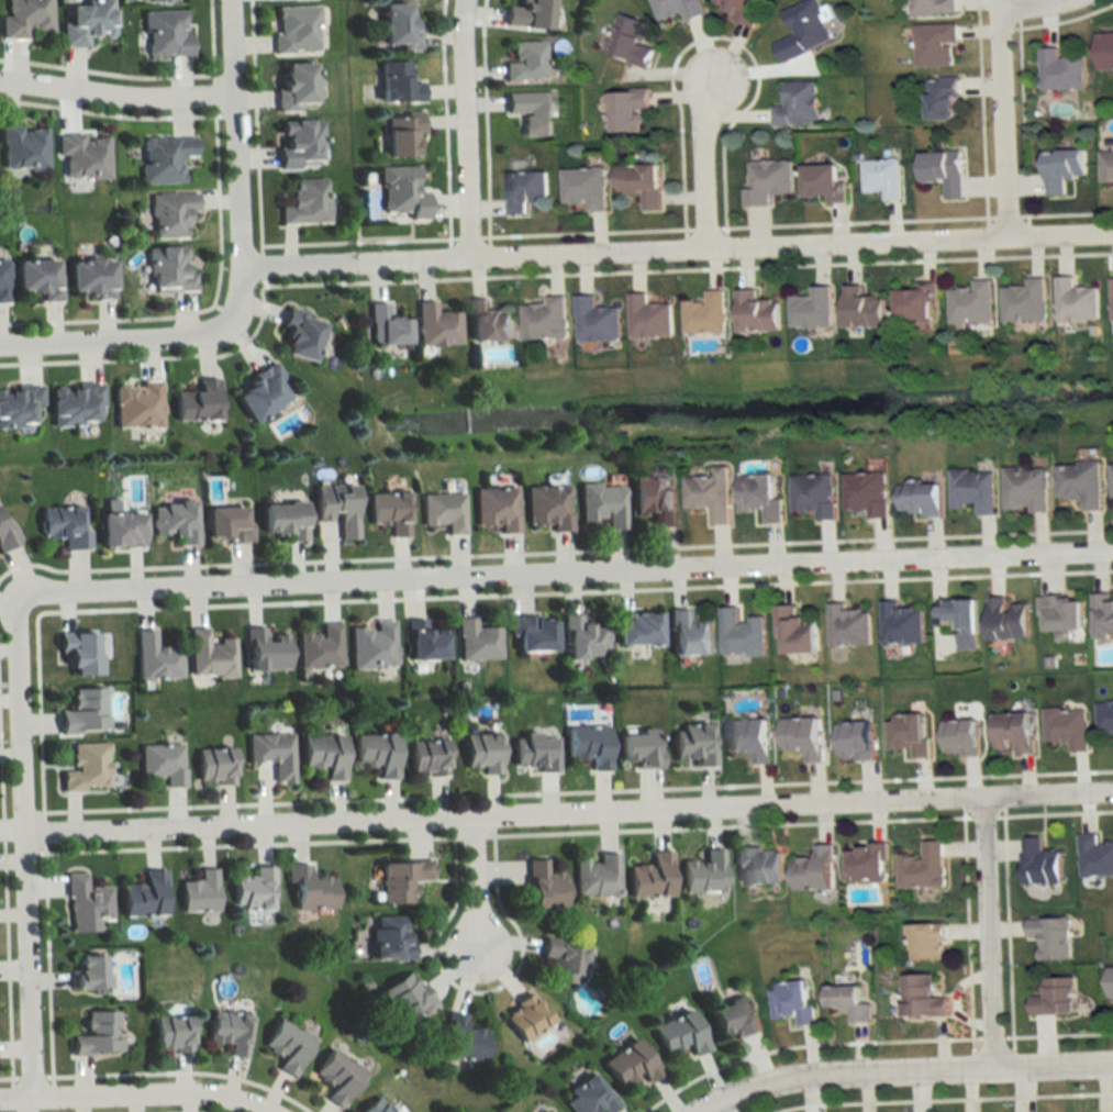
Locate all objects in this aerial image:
building: (158, 0)
road: (1026, 2)
building: (932, 7)
building: (676, 9)
building: (739, 10)
building: (525, 14)
building: (23, 18)
building: (82, 21)
building: (393, 27)
building: (292, 30)
building: (803, 30)
building: (164, 34)
building: (628, 42)
building: (933, 44)
building: (1103, 51)
building: (523, 62)
building: (1059, 70)
building: (394, 82)
building: (290, 86)
road: (118, 94)
building: (941, 98)
building: (795, 104)
building: (624, 109)
building: (528, 111)
road: (1002, 116)
road: (464, 126)
building: (398, 132)
building: (294, 143)
building: (22, 147)
road: (705, 154)
building: (82, 157)
road: (240, 157)
building: (162, 159)
building: (1105, 167)
building: (1059, 169)
building: (942, 170)
building: (879, 178)
building: (765, 180)
building: (639, 182)
building: (822, 182)
building: (583, 188)
building: (523, 190)
building: (398, 193)
building: (302, 202)
building: (168, 214)
road: (679, 245)
building: (166, 270)
building: (36, 278)
building: (2, 279)
building: (87, 279)
building: (1111, 300)
building: (1023, 301)
building: (912, 302)
building: (1073, 302)
building: (970, 303)
building: (858, 308)
building: (810, 310)
building: (753, 313)
building: (704, 314)
building: (647, 318)
building: (544, 319)
building: (594, 321)
building: (486, 322)
building: (434, 325)
building: (382, 326)
building: (296, 335)
road: (120, 337)
building: (257, 392)
building: (196, 401)
building: (73, 403)
building: (135, 404)
building: (18, 405)
building: (1111, 481)
building: (1079, 482)
building: (1025, 489)
building: (972, 490)
building: (866, 493)
building: (812, 494)
building: (709, 496)
building: (757, 497)
building: (652, 499)
building: (919, 499)
building: (599, 504)
building: (545, 507)
building: (333, 508)
building: (493, 508)
building: (385, 511)
building: (441, 512)
building: (174, 520)
building: (277, 521)
building: (223, 525)
building: (60, 527)
building: (116, 530)
building: (5, 536)
road: (565, 569)
building: (1060, 613)
building: (1102, 615)
building: (1005, 620)
building: (960, 621)
building: (900, 624)
building: (847, 626)
building: (633, 630)
building: (793, 633)
building: (741, 634)
building: (527, 635)
building: (687, 635)
building: (580, 638)
building: (420, 642)
building: (474, 642)
building: (370, 645)
building: (316, 647)
building: (261, 650)
building: (75, 654)
building: (207, 656)
building: (153, 658)
building: (81, 712)
building: (1104, 719)
building: (1067, 729)
building: (1011, 733)
building: (906, 734)
building: (800, 738)
building: (957, 738)
building: (747, 740)
building: (850, 742)
building: (691, 745)
building: (587, 746)
building: (638, 748)
building: (478, 753)
building: (532, 753)
building: (270, 754)
building: (374, 754)
building: (321, 755)
building: (424, 758)
building: (160, 764)
building: (212, 767)
building: (84, 768)
road: (570, 807)
road: (27, 843)
building: (1093, 857)
building: (864, 864)
building: (1038, 864)
building: (756, 866)
building: (921, 867)
building: (810, 870)
building: (702, 872)
building: (596, 876)
building: (649, 876)
road: (480, 878)
building: (398, 881)
building: (542, 886)
building: (305, 889)
building: (251, 890)
building: (197, 892)
building: (142, 896)
building: (84, 900)
road: (991, 928)
building: (1049, 936)
building: (387, 938)
building: (924, 941)
building: (559, 961)
building: (85, 974)
building: (1109, 981)
building: (920, 996)
building: (1053, 997)
building: (404, 999)
building: (789, 1000)
building: (845, 1001)
building: (730, 1018)
building: (522, 1019)
building: (226, 1033)
building: (168, 1034)
building: (677, 1034)
building: (92, 1035)
building: (460, 1041)
building: (283, 1046)
building: (626, 1064)
road: (901, 1068)
building: (334, 1077)
road: (141, 1089)
building: (588, 1096)
building: (371, 1107)
building: (544, 1111)

